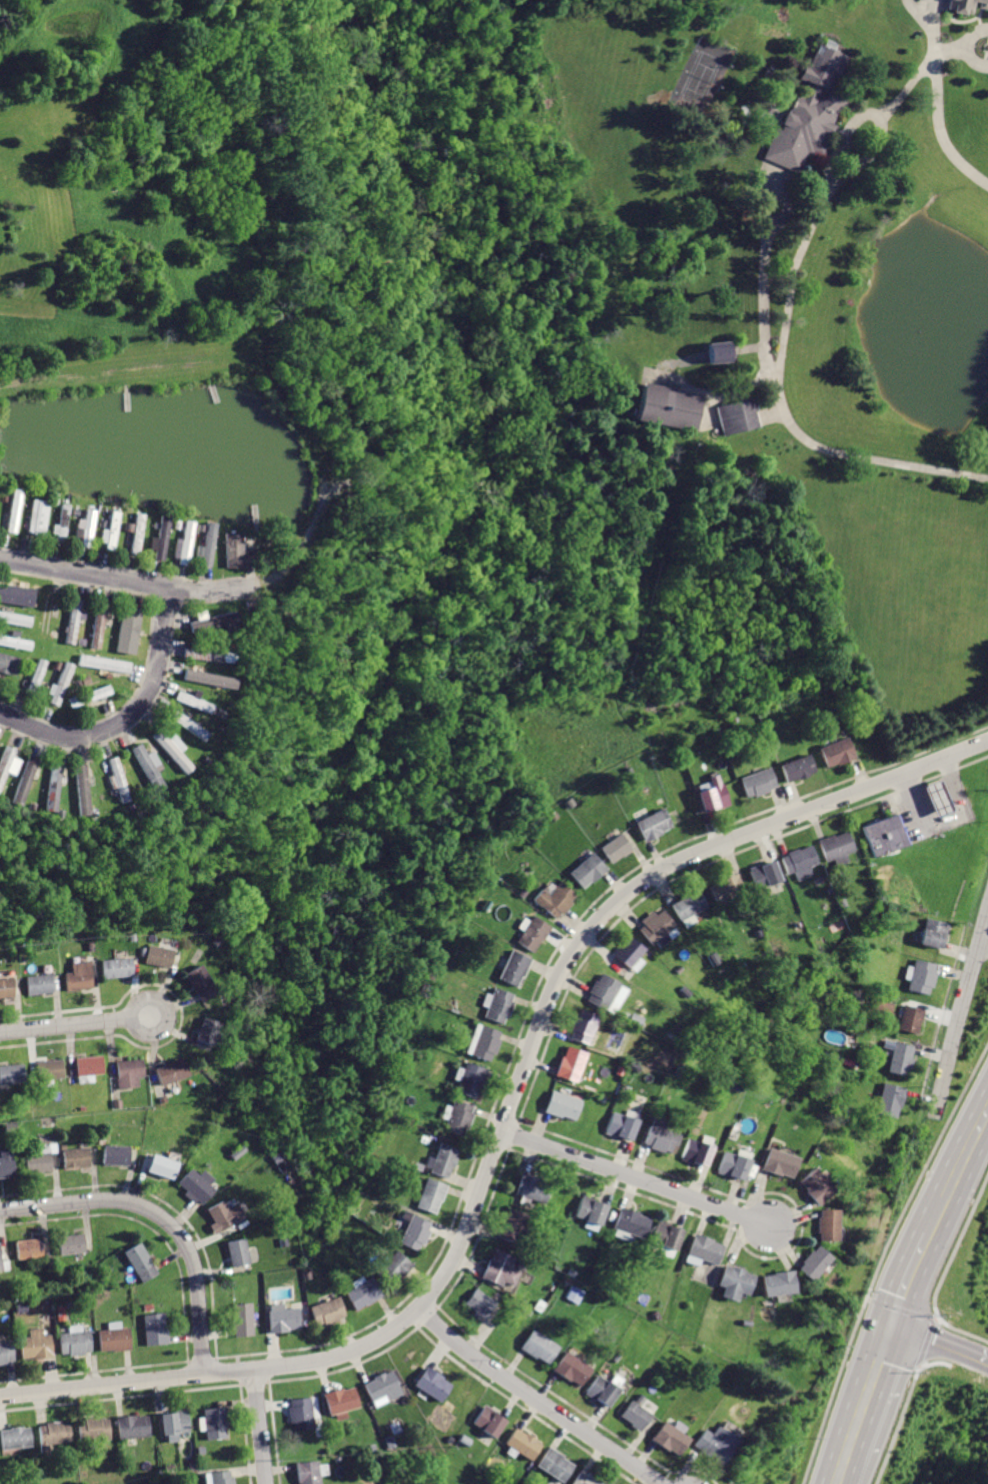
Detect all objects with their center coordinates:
building: (963, 5)
park: (693, 85)
road: (934, 106)
building: (808, 112)
road: (840, 135)
road: (762, 276)
road: (782, 321)
building: (718, 351)
building: (667, 407)
building: (736, 415)
building: (15, 509)
building: (39, 517)
building: (63, 522)
building: (88, 527)
building: (79, 530)
building: (112, 530)
building: (137, 532)
building: (161, 538)
building: (186, 542)
building: (209, 545)
building: (232, 550)
road: (195, 593)
building: (16, 594)
building: (15, 618)
building: (45, 618)
building: (72, 620)
building: (214, 621)
building: (97, 627)
building: (128, 629)
building: (15, 642)
building: (206, 655)
building: (8, 664)
building: (103, 664)
building: (36, 674)
building: (60, 684)
building: (88, 697)
building: (192, 702)
road: (126, 717)
building: (186, 725)
building: (171, 751)
building: (836, 753)
building: (5, 761)
building: (796, 767)
building: (147, 768)
building: (23, 779)
building: (117, 779)
building: (756, 782)
building: (51, 786)
building: (80, 790)
building: (713, 796)
building: (936, 798)
road: (943, 822)
building: (653, 826)
building: (884, 835)
building: (837, 848)
building: (616, 849)
building: (800, 862)
building: (587, 871)
building: (766, 876)
building: (728, 889)
building: (555, 899)
building: (689, 905)
building: (656, 926)
building: (934, 931)
building: (535, 932)
building: (629, 953)
building: (155, 955)
building: (114, 967)
building: (516, 967)
building: (923, 975)
building: (77, 976)
building: (36, 982)
building: (198, 984)
building: (5, 987)
building: (604, 991)
building: (498, 1004)
road: (962, 1011)
building: (913, 1018)
road: (74, 1024)
building: (584, 1025)
building: (205, 1030)
building: (485, 1043)
building: (902, 1057)
building: (570, 1064)
building: (89, 1065)
building: (49, 1068)
building: (127, 1072)
building: (169, 1072)
building: (11, 1074)
building: (471, 1078)
building: (890, 1099)
building: (563, 1104)
building: (460, 1116)
road: (507, 1117)
building: (621, 1125)
building: (661, 1136)
building: (695, 1152)
building: (115, 1155)
building: (75, 1157)
building: (37, 1159)
building: (444, 1161)
building: (6, 1163)
building: (777, 1164)
building: (159, 1166)
building: (732, 1166)
road: (954, 1168)
road: (636, 1179)
building: (195, 1186)
building: (814, 1186)
building: (533, 1188)
building: (432, 1195)
building: (591, 1210)
building: (220, 1217)
road: (161, 1220)
building: (630, 1223)
building: (827, 1224)
building: (512, 1226)
building: (415, 1233)
building: (665, 1235)
building: (73, 1243)
building: (29, 1248)
building: (705, 1249)
building: (234, 1253)
building: (1, 1261)
building: (814, 1262)
building: (139, 1263)
building: (393, 1268)
building: (500, 1269)
road: (904, 1278)
building: (736, 1283)
building: (779, 1283)
building: (363, 1293)
building: (575, 1294)
building: (480, 1305)
building: (327, 1311)
building: (280, 1318)
building: (243, 1319)
traffic signals: (886, 1326)
building: (154, 1329)
building: (114, 1339)
building: (74, 1342)
building: (34, 1343)
road: (937, 1345)
building: (542, 1347)
building: (5, 1350)
building: (573, 1368)
building: (433, 1384)
building: (382, 1387)
building: (604, 1391)
road: (860, 1391)
building: (341, 1400)
road: (536, 1400)
building: (302, 1414)
building: (636, 1416)
building: (216, 1422)
building: (489, 1422)
building: (174, 1423)
building: (132, 1425)
road: (261, 1427)
building: (93, 1428)
building: (53, 1432)
building: (15, 1438)
building: (671, 1439)
building: (717, 1444)
building: (524, 1445)
building: (554, 1465)
road: (834, 1470)
building: (308, 1472)
building: (221, 1477)
building: (587, 1479)

